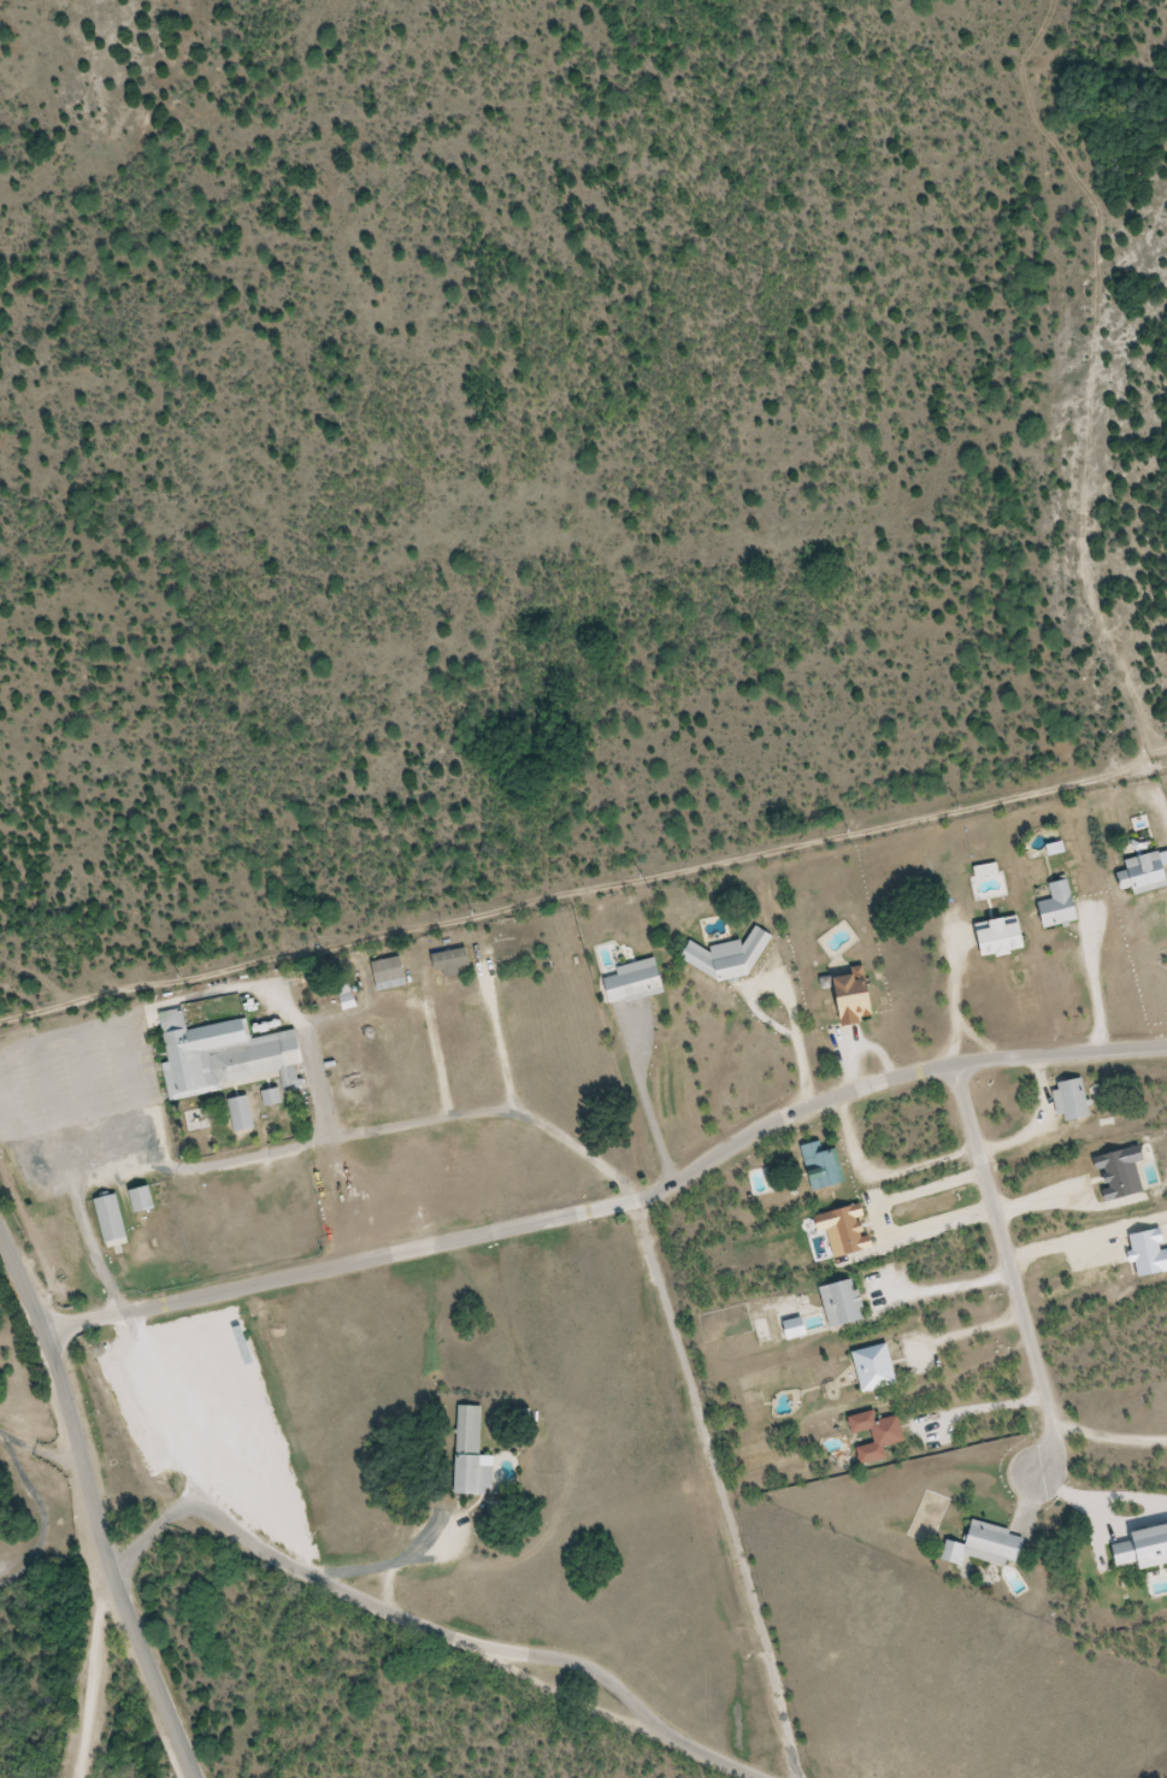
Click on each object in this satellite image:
building: (1138, 873)
road: (587, 893)
building: (1054, 905)
building: (992, 936)
building: (509, 947)
building: (726, 956)
building: (449, 961)
building: (391, 973)
building: (629, 982)
road: (1096, 985)
road: (788, 991)
building: (845, 997)
road: (957, 997)
road: (983, 1040)
road: (856, 1042)
building: (228, 1055)
building: (272, 1099)
building: (1067, 1100)
road: (1038, 1124)
road: (306, 1146)
building: (818, 1167)
road: (883, 1173)
building: (143, 1200)
road: (619, 1205)
building: (112, 1219)
road: (1010, 1276)
building: (837, 1302)
building: (870, 1367)
building: (871, 1435)
building: (467, 1455)
road: (721, 1489)
road: (102, 1493)
building: (989, 1543)
building: (1138, 1548)
road: (382, 1611)

